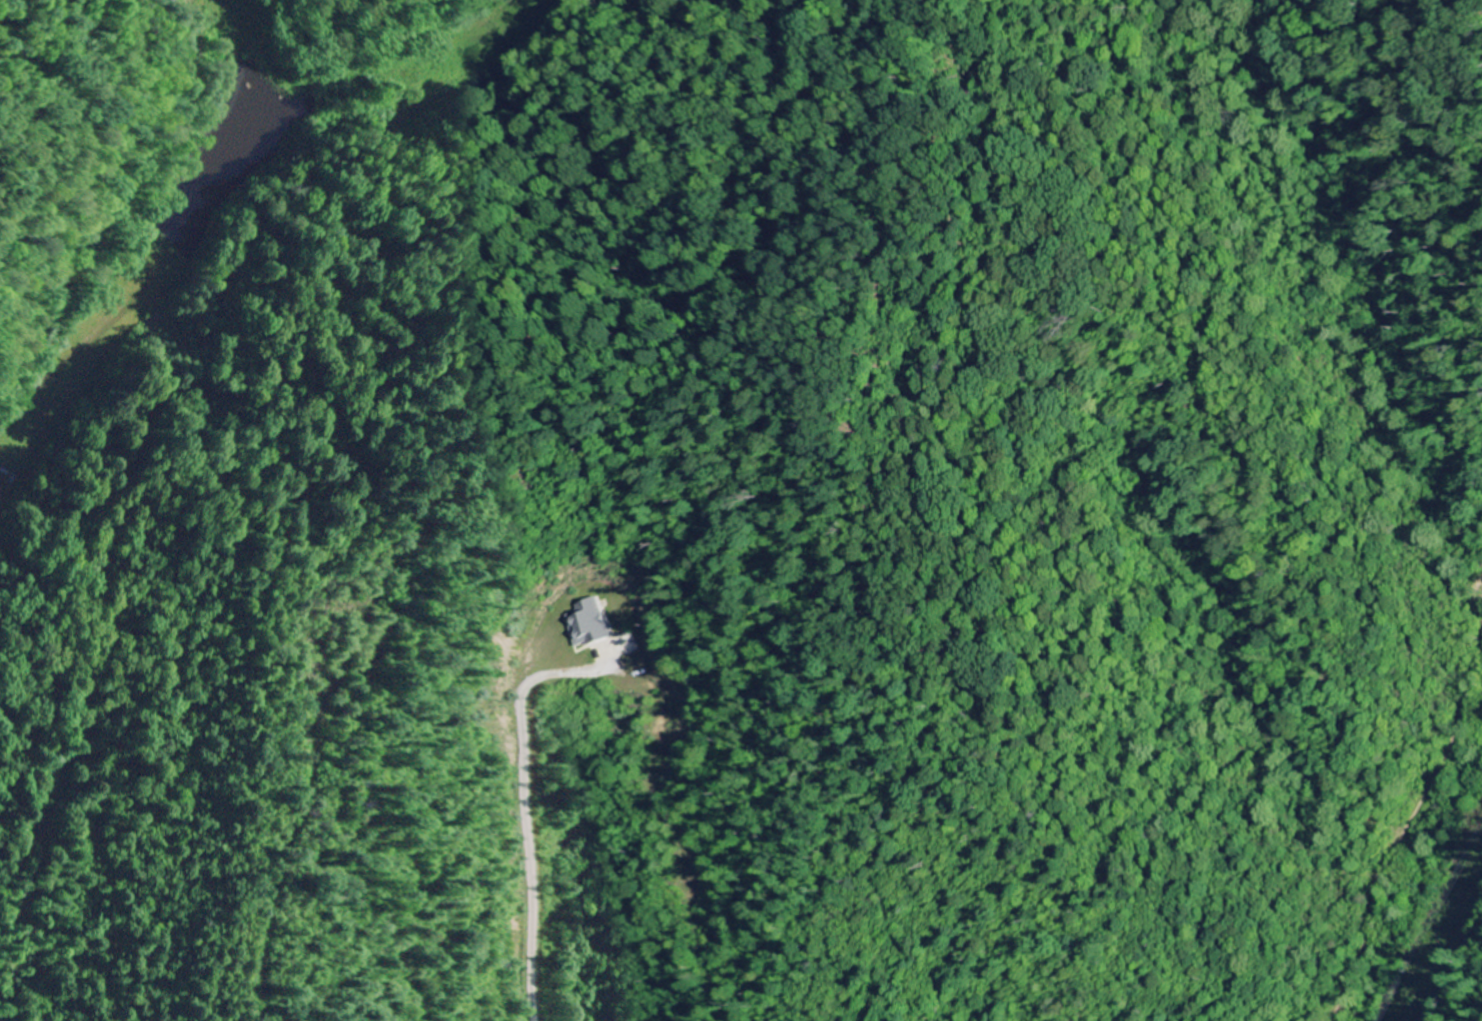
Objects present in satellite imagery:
building: (590, 624)
road: (531, 813)

